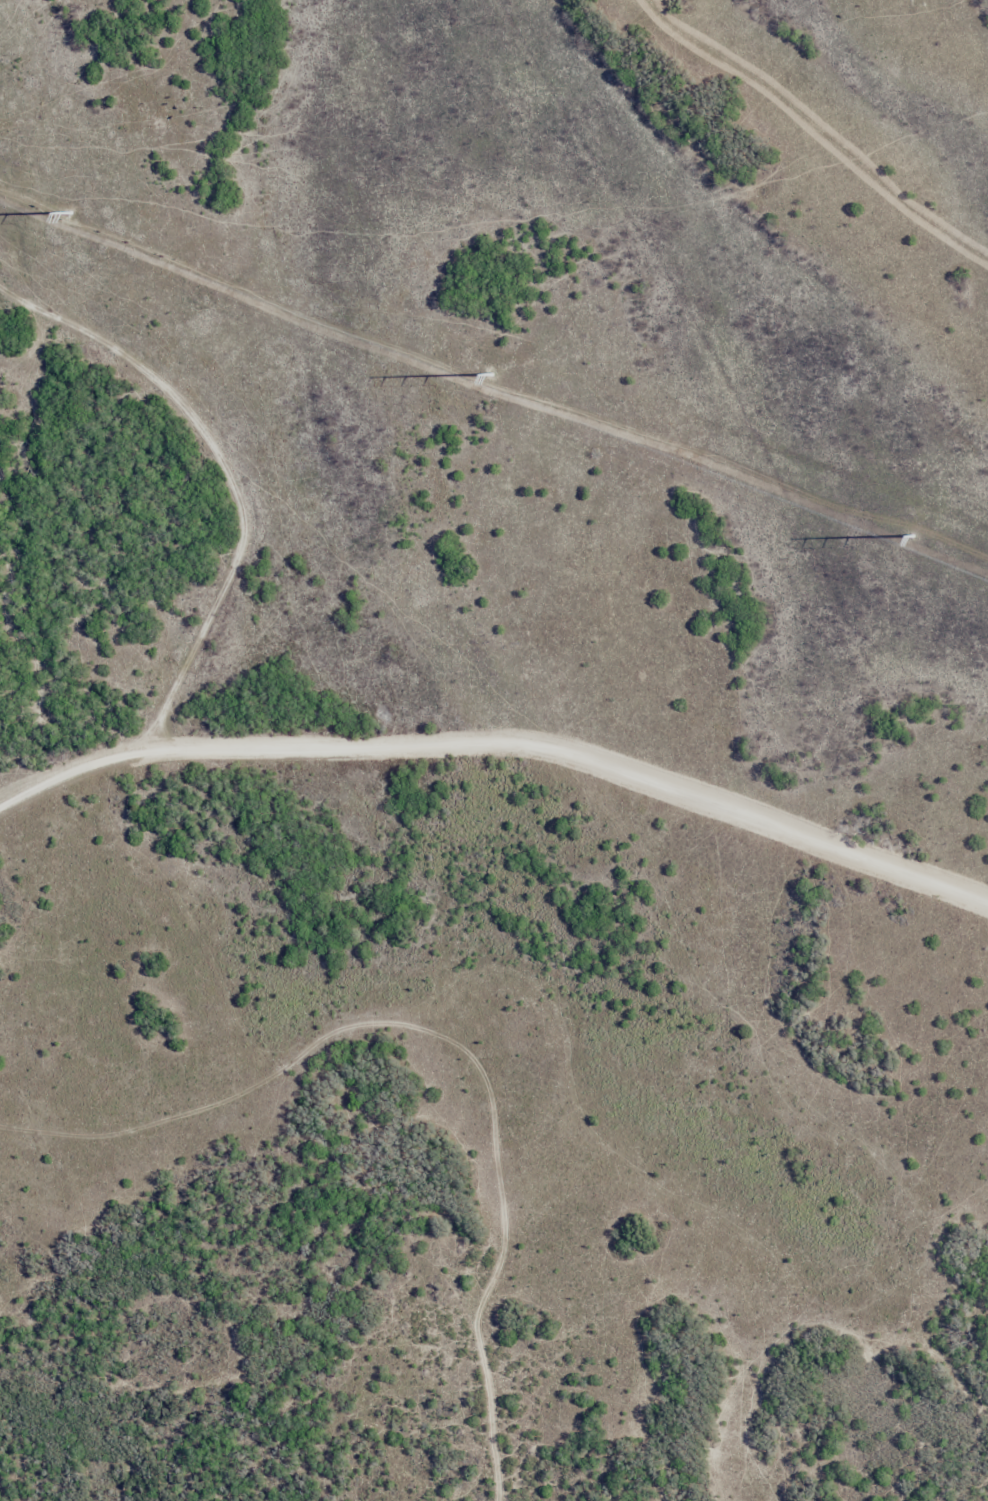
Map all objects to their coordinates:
power tower: (71, 216)
power tower: (499, 379)
road: (238, 451)
power tower: (916, 535)
road: (504, 712)

